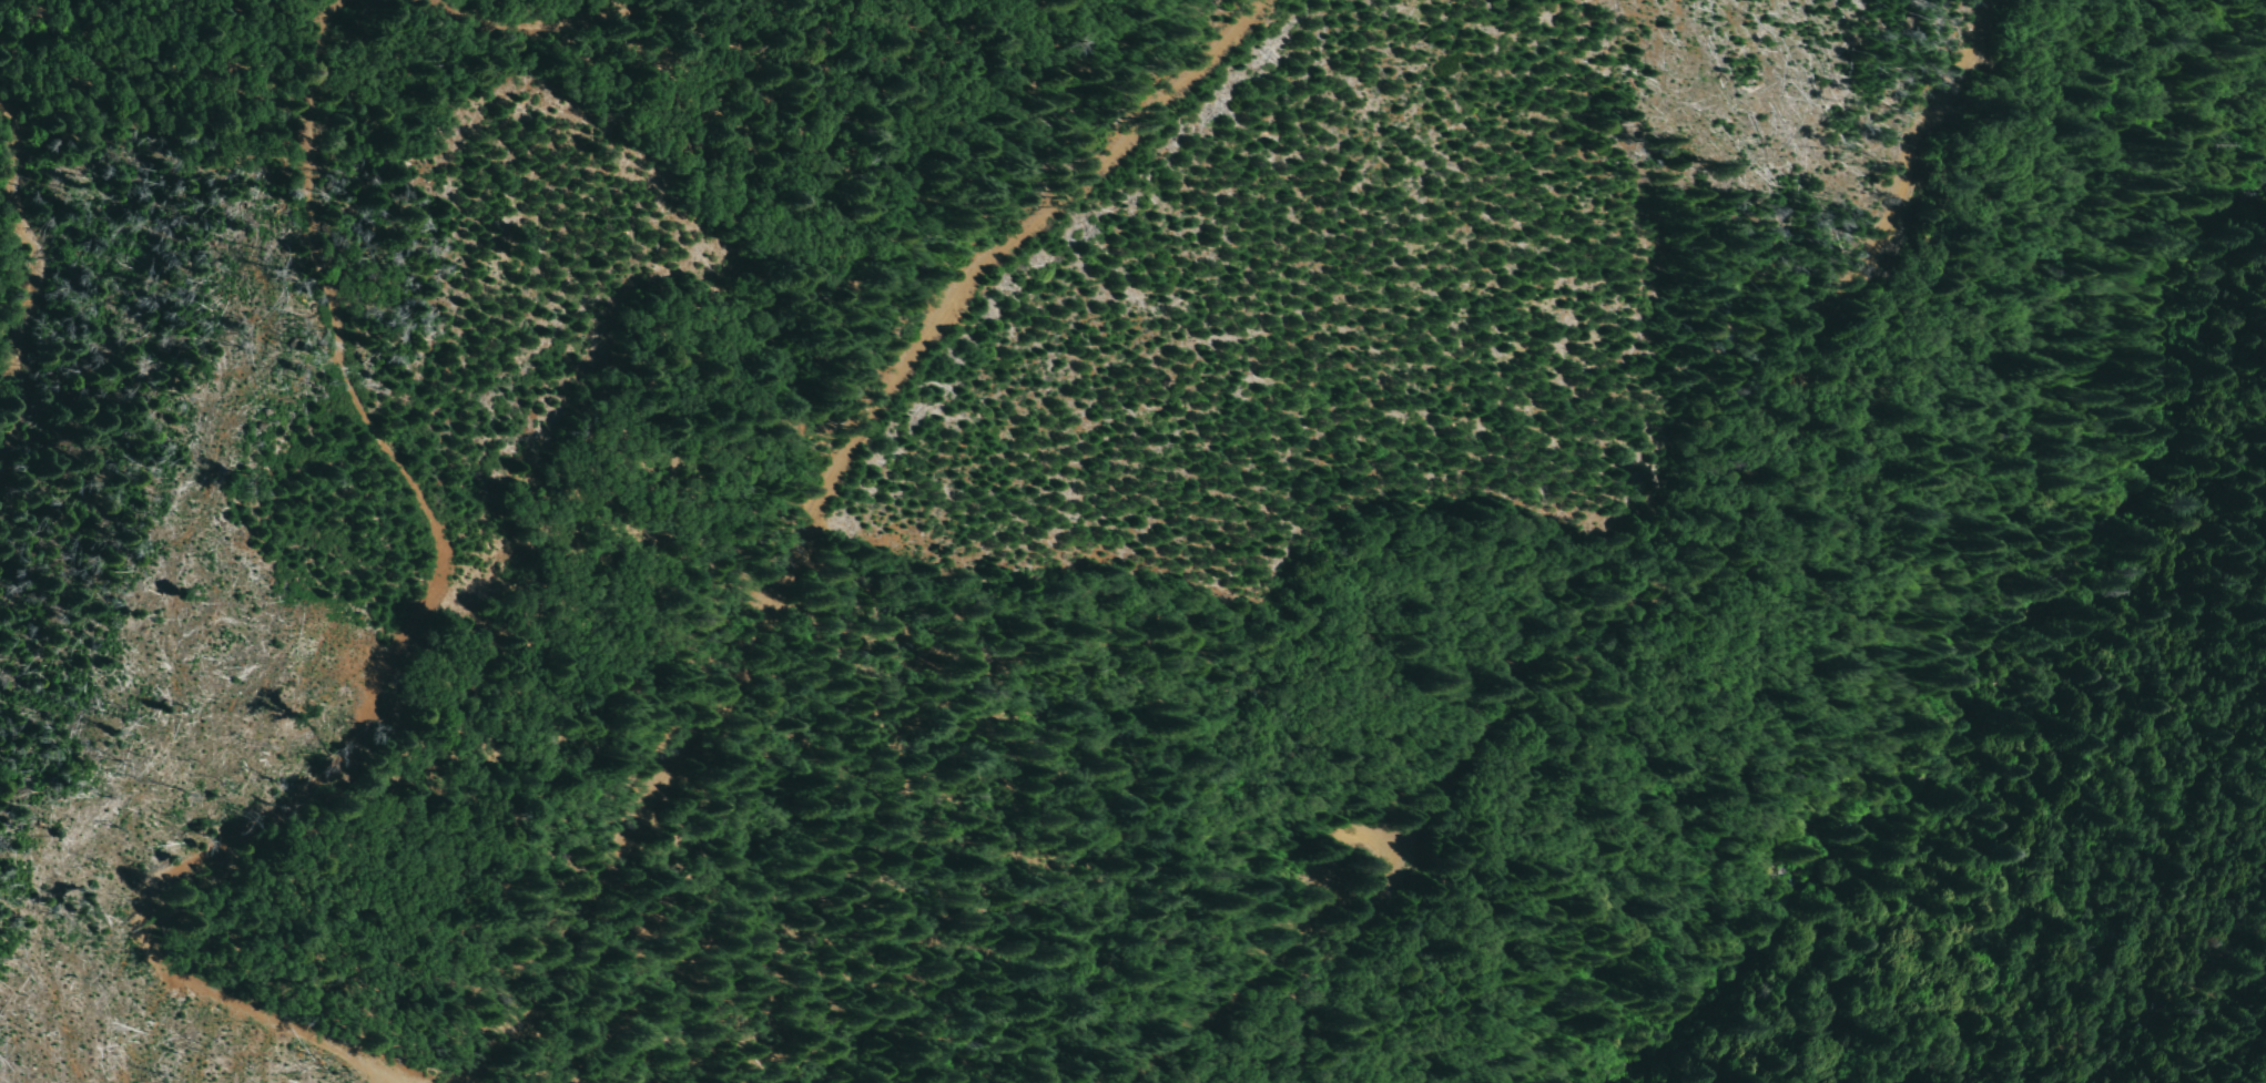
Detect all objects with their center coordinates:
road: (1640, 565)

